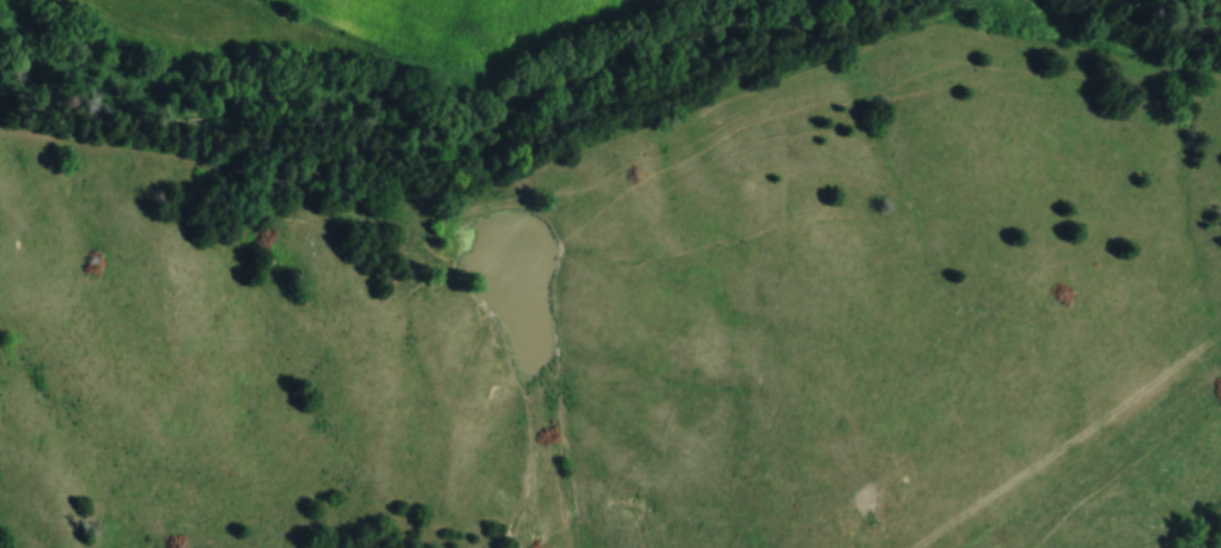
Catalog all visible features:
dam: (1202, 524)

